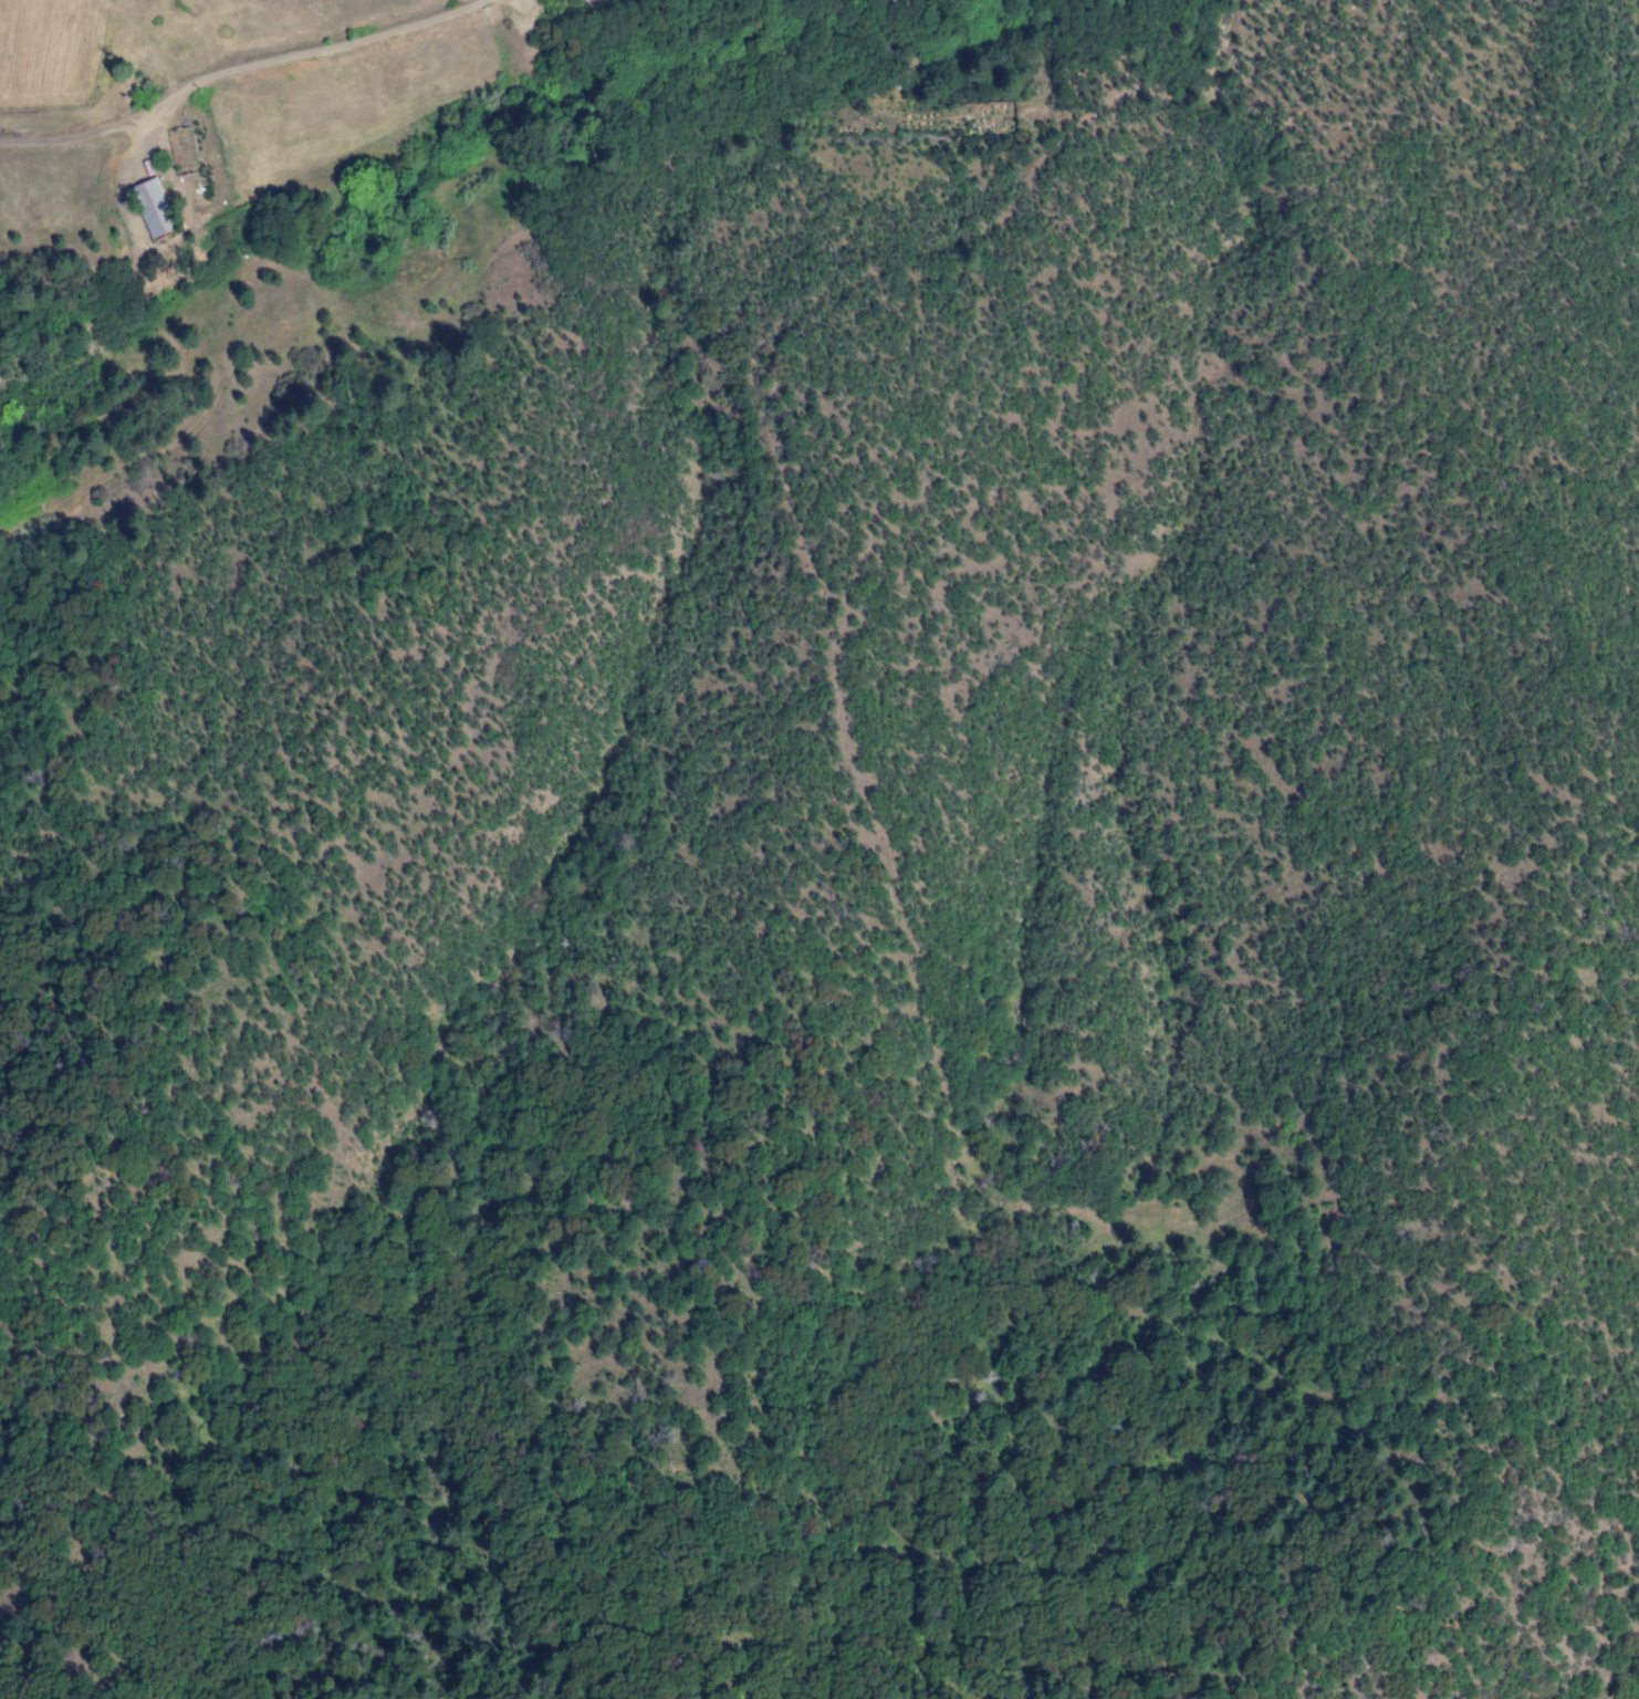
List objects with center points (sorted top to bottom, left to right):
building: (928, 1)
road: (248, 71)
building: (150, 207)

